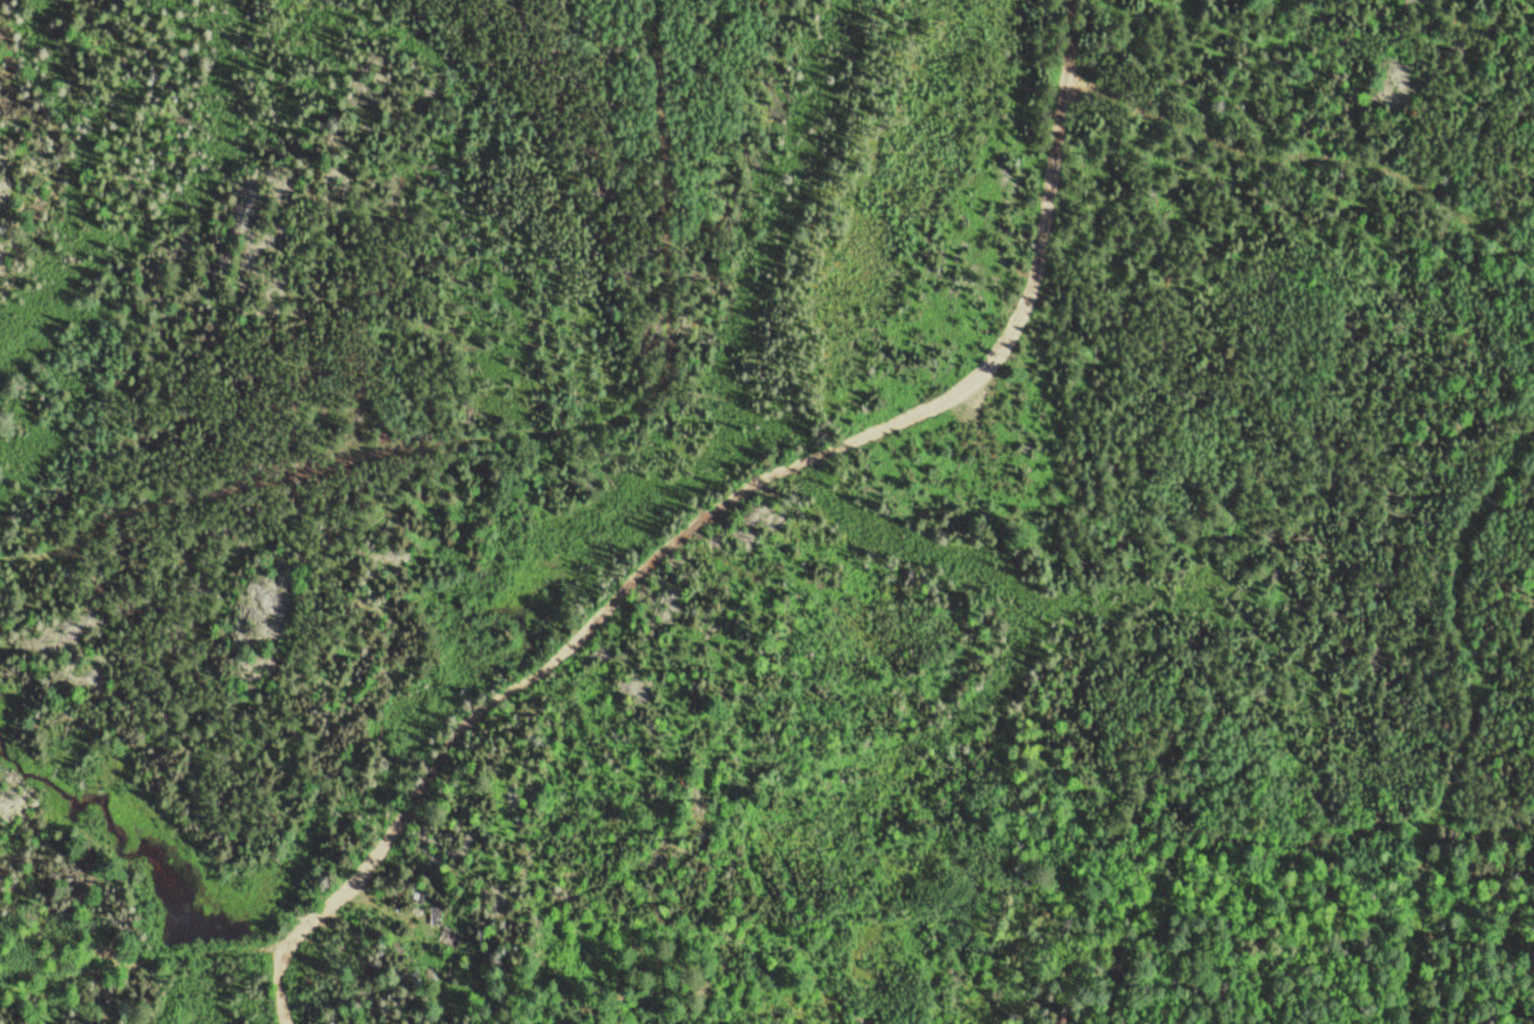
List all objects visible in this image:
road: (523, 431)
road: (710, 516)
building: (449, 936)
road: (136, 962)

